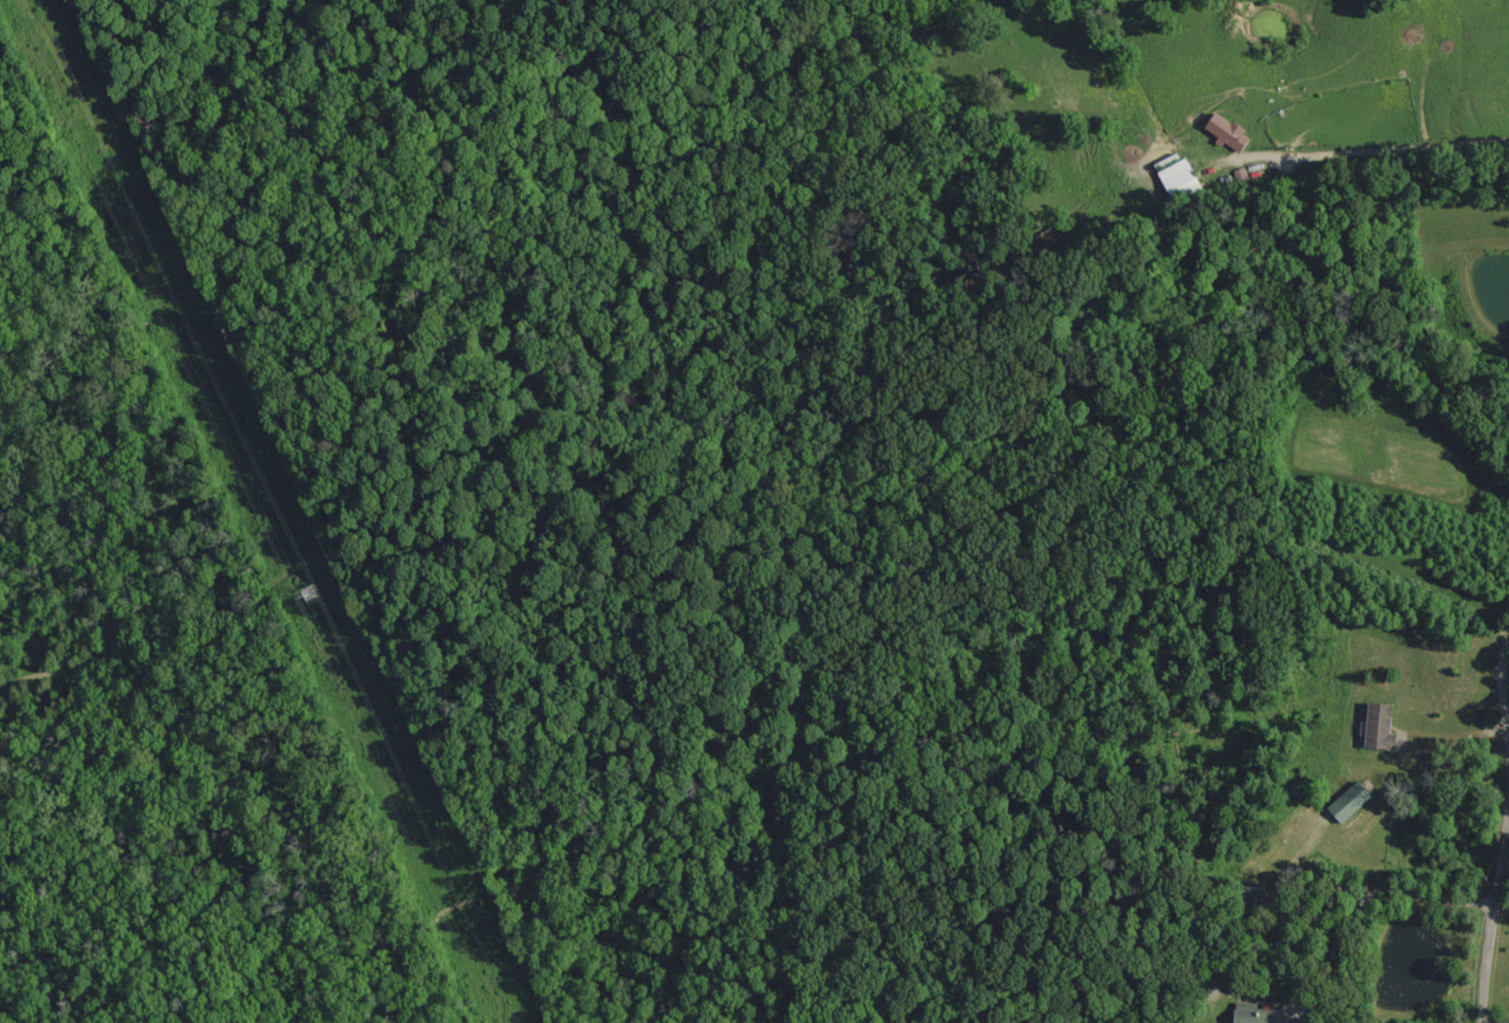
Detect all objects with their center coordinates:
building: (1222, 132)
road: (1386, 147)
building: (1175, 176)
building: (1239, 176)
power tower: (149, 277)
power tower: (301, 581)
building: (1375, 726)
building: (1345, 802)
road: (1501, 832)
road: (1024, 923)
road: (1382, 1014)

